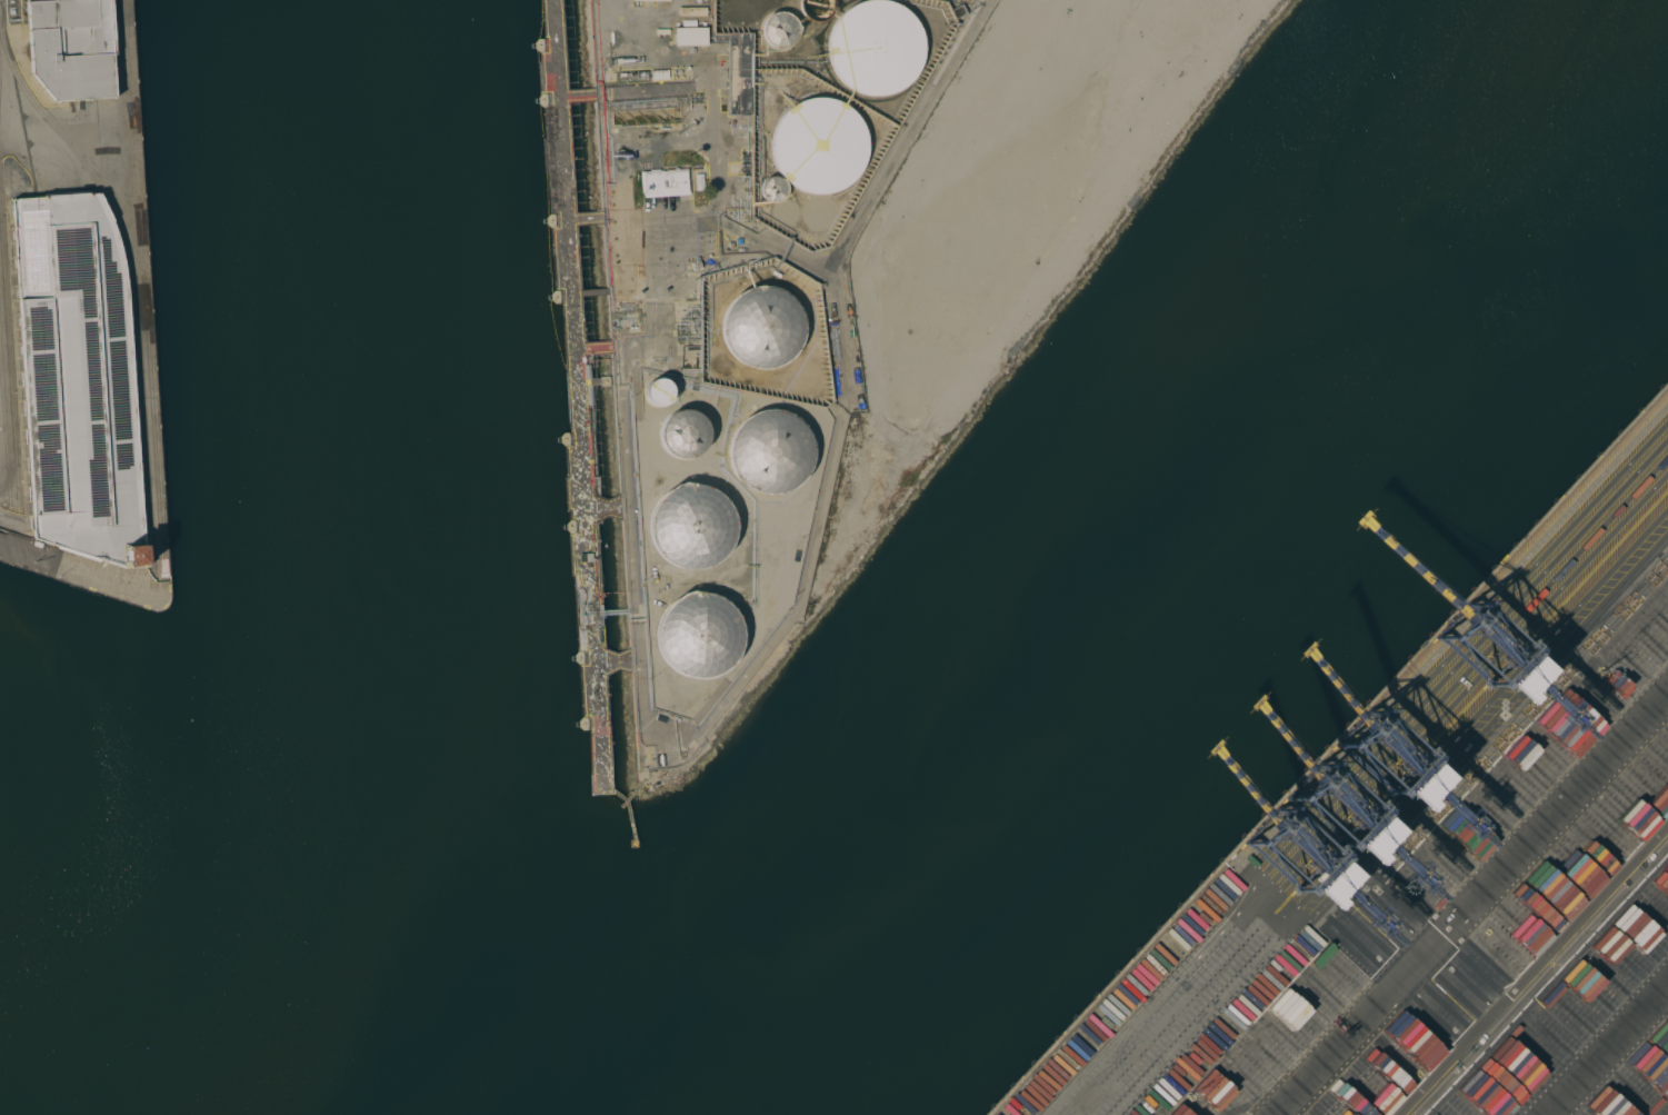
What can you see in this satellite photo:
building: (819, 8)
storage tank: (819, 8)
building: (958, 11)
building: (781, 28)
storage tank: (781, 28)
building: (690, 36)
building: (878, 46)
storage tank: (878, 46)
building: (73, 47)
building: (738, 71)
building: (660, 74)
building: (820, 145)
storage tank: (820, 145)
building: (701, 171)
building: (663, 182)
building: (773, 189)
storage tank: (773, 189)
building: (571, 191)
building: (696, 265)
building: (762, 328)
storage tank: (762, 328)
pier: (587, 378)
building: (80, 380)
building: (658, 394)
storage tank: (658, 394)
road: (845, 399)
railway: (152, 430)
railway: (143, 431)
building: (683, 436)
storage tank: (683, 436)
building: (771, 455)
storage tank: (771, 455)
building: (689, 531)
storage tank: (689, 531)
pier: (1, 539)
building: (698, 641)
storage tank: (698, 641)

